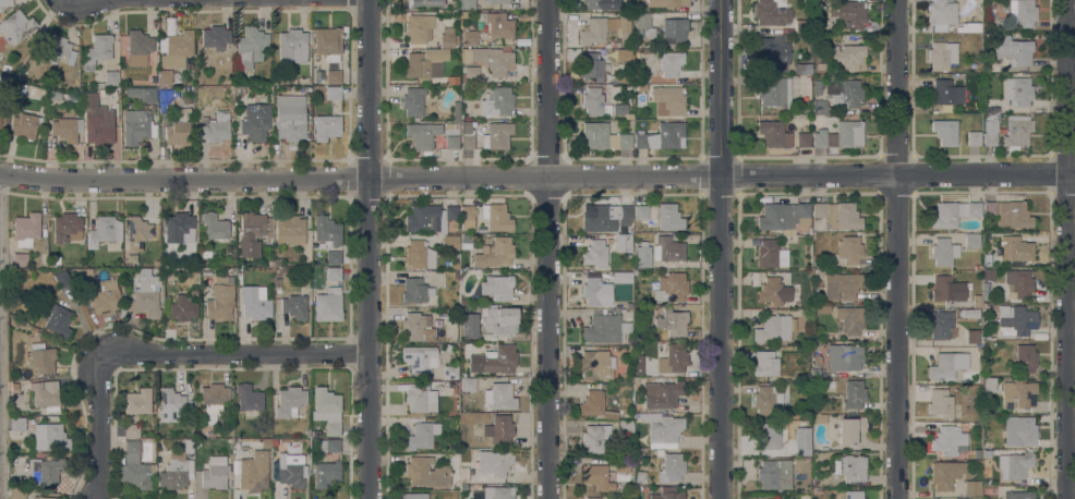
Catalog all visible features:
building: (497, 1)
building: (814, 1)
building: (667, 2)
building: (5, 3)
building: (420, 3)
building: (467, 4)
building: (602, 4)
building: (1022, 12)
building: (770, 13)
building: (847, 14)
building: (941, 14)
building: (480, 16)
building: (170, 25)
building: (499, 25)
building: (643, 25)
building: (801, 26)
building: (15, 27)
building: (969, 27)
building: (419, 28)
building: (595, 29)
building: (624, 31)
building: (674, 31)
building: (215, 37)
building: (469, 37)
building: (448, 38)
building: (162, 44)
building: (327, 44)
building: (611, 45)
building: (293, 46)
building: (250, 47)
building: (138, 48)
building: (57, 49)
building: (178, 49)
building: (98, 50)
building: (1019, 53)
building: (771, 54)
building: (848, 56)
building: (942, 56)
building: (493, 60)
building: (425, 63)
building: (669, 63)
building: (590, 65)
building: (820, 66)
building: (992, 68)
building: (5, 69)
building: (801, 69)
building: (471, 73)
building: (20, 74)
building: (333, 74)
building: (165, 76)
building: (111, 77)
building: (2, 78)
building: (641, 78)
building: (452, 80)
building: (198, 83)
building: (641, 87)
building: (817, 87)
building: (23, 88)
road: (720, 88)
building: (1018, 90)
building: (772, 92)
building: (333, 93)
building: (946, 93)
building: (92, 94)
building: (142, 94)
building: (845, 94)
building: (55, 96)
building: (167, 96)
building: (70, 97)
building: (106, 100)
building: (668, 100)
building: (412, 101)
building: (496, 101)
building: (594, 102)
building: (220, 104)
building: (819, 107)
building: (992, 107)
building: (802, 110)
building: (456, 111)
building: (1, 117)
building: (290, 118)
building: (255, 122)
building: (25, 125)
building: (98, 125)
building: (216, 125)
building: (137, 126)
building: (326, 126)
building: (67, 129)
building: (179, 130)
building: (945, 131)
building: (1017, 131)
building: (990, 133)
building: (774, 134)
building: (849, 134)
building: (451, 135)
building: (467, 135)
building: (497, 135)
building: (422, 136)
building: (603, 136)
building: (661, 136)
building: (819, 137)
building: (974, 138)
building: (802, 139)
road: (897, 177)
road: (359, 182)
building: (451, 212)
building: (641, 214)
building: (953, 214)
building: (1007, 214)
building: (625, 215)
building: (837, 215)
building: (467, 217)
building: (496, 217)
building: (668, 217)
building: (783, 217)
building: (599, 218)
building: (424, 219)
building: (214, 227)
building: (67, 228)
building: (180, 228)
building: (26, 229)
building: (138, 229)
building: (290, 230)
building: (327, 230)
building: (482, 230)
building: (105, 231)
building: (254, 233)
building: (596, 234)
building: (467, 239)
building: (971, 241)
building: (450, 243)
building: (623, 243)
road: (551, 248)
building: (1016, 248)
road: (1071, 248)
road: (370, 249)
building: (667, 249)
building: (849, 249)
road: (898, 249)
building: (944, 251)
building: (494, 253)
building: (206, 254)
building: (595, 254)
building: (771, 254)
building: (420, 255)
building: (333, 257)
building: (627, 257)
building: (643, 257)
building: (987, 259)
building: (20, 260)
building: (56, 260)
building: (456, 266)
building: (978, 268)
building: (206, 271)
building: (78, 272)
building: (334, 273)
building: (988, 273)
building: (456, 275)
building: (62, 278)
building: (1017, 283)
building: (841, 285)
building: (497, 287)
building: (672, 288)
building: (947, 289)
building: (415, 290)
building: (592, 291)
building: (772, 291)
building: (145, 295)
building: (108, 296)
building: (166, 297)
building: (220, 300)
building: (86, 302)
building: (976, 302)
building: (255, 303)
building: (183, 305)
building: (328, 305)
building: (294, 306)
building: (821, 308)
building: (970, 314)
building: (849, 319)
building: (58, 320)
building: (502, 320)
building: (1015, 320)
building: (672, 321)
building: (940, 325)
building: (605, 326)
building: (418, 327)
building: (772, 328)
building: (470, 336)
road: (0, 337)
building: (973, 337)
building: (1039, 337)
road: (720, 338)
building: (615, 346)
road: (235, 353)
building: (844, 356)
building: (41, 357)
building: (420, 357)
building: (499, 358)
building: (673, 358)
building: (1025, 358)
building: (765, 364)
building: (463, 365)
building: (596, 365)
building: (639, 365)
building: (946, 366)
building: (450, 372)
building: (816, 373)
building: (468, 385)
building: (989, 385)
building: (662, 393)
building: (1018, 393)
building: (854, 394)
building: (500, 395)
building: (45, 397)
building: (416, 397)
building: (249, 398)
building: (768, 400)
building: (137, 401)
building: (214, 401)
building: (326, 401)
building: (291, 403)
building: (940, 403)
building: (171, 405)
building: (594, 405)
building: (17, 424)
road: (101, 426)
building: (331, 426)
building: (627, 427)
building: (662, 428)
building: (499, 429)
building: (850, 429)
building: (132, 430)
building: (1019, 431)
building: (421, 435)
building: (771, 435)
building: (50, 437)
building: (595, 438)
building: (950, 440)
building: (266, 442)
building: (274, 442)
building: (330, 445)
building: (189, 446)
building: (1028, 449)
building: (986, 453)
building: (461, 458)
building: (454, 460)
building: (494, 462)
building: (1015, 465)
building: (135, 466)
building: (672, 467)
building: (853, 468)
building: (291, 470)
building: (621, 470)
building: (46, 471)
building: (176, 471)
building: (253, 472)
building: (438, 472)
building: (215, 473)
building: (326, 473)
building: (464, 474)
building: (774, 474)
building: (945, 474)
building: (596, 477)
building: (640, 478)
building: (509, 480)
building: (973, 488)
building: (17, 491)
building: (497, 492)
building: (667, 494)
building: (849, 495)
building: (1017, 495)
building: (414, 496)
building: (43, 497)
building: (592, 498)
building: (766, 498)
building: (944, 498)

